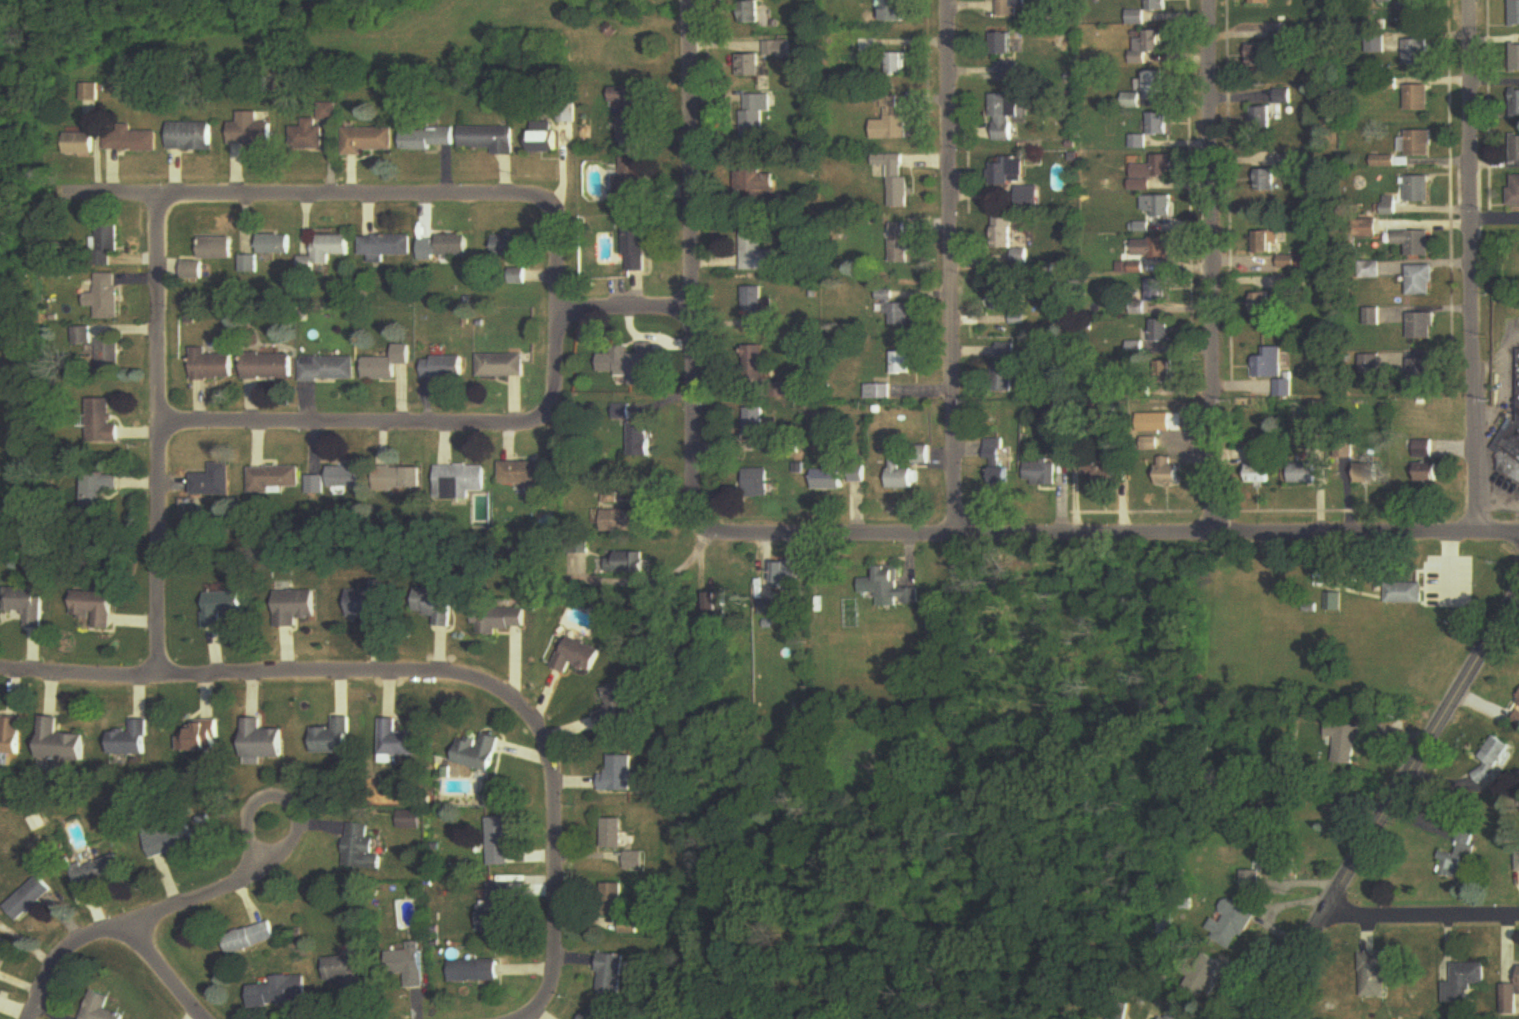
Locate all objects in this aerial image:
building: (1263, 2)
building: (1158, 6)
building: (1012, 8)
building: (902, 10)
building: (1415, 10)
building: (753, 12)
building: (1515, 14)
building: (1149, 46)
building: (1418, 53)
building: (1264, 55)
building: (1008, 57)
building: (1515, 60)
building: (900, 65)
building: (750, 66)
building: (1155, 85)
river: (53, 90)
building: (90, 94)
building: (1418, 98)
building: (1515, 104)
building: (1271, 111)
building: (632, 113)
building: (757, 113)
building: (1007, 115)
building: (896, 119)
building: (251, 132)
building: (1154, 133)
building: (309, 135)
building: (191, 137)
building: (545, 137)
building: (429, 138)
building: (489, 138)
building: (131, 140)
building: (369, 140)
building: (1418, 143)
building: (80, 144)
building: (1515, 149)
building: (1288, 161)
building: (1010, 171)
building: (1151, 172)
building: (632, 175)
building: (755, 179)
building: (898, 179)
building: (1266, 180)
building: (1419, 189)
building: (1515, 191)
road: (276, 196)
building: (1158, 207)
building: (1010, 238)
building: (1267, 242)
building: (1415, 243)
building: (106, 244)
building: (276, 245)
building: (387, 246)
building: (443, 246)
building: (510, 246)
building: (636, 247)
building: (330, 248)
building: (753, 248)
building: (218, 249)
building: (1153, 249)
building: (900, 251)
building: (1292, 263)
building: (249, 265)
road: (952, 267)
road: (1212, 268)
road: (1472, 268)
building: (518, 277)
building: (1421, 281)
building: (1157, 290)
building: (106, 298)
park: (11, 299)
building: (1005, 299)
building: (1261, 304)
road: (557, 306)
building: (755, 308)
road: (624, 310)
building: (898, 310)
building: (1421, 327)
building: (1161, 331)
building: (82, 337)
building: (1136, 349)
building: (109, 356)
building: (902, 363)
building: (754, 364)
building: (1270, 364)
building: (632, 365)
building: (1370, 365)
building: (212, 366)
building: (501, 366)
building: (269, 367)
building: (388, 367)
building: (1006, 368)
building: (328, 369)
building: (444, 369)
building: (1421, 372)
road: (1497, 373)
building: (1284, 389)
building: (878, 392)
building: (102, 422)
road: (348, 424)
road: (161, 438)
building: (640, 440)
building: (1423, 450)
building: (1510, 455)
building: (997, 463)
building: (1168, 472)
building: (1101, 473)
building: (1429, 473)
building: (527, 474)
building: (1041, 474)
building: (1302, 474)
building: (1259, 476)
building: (828, 477)
building: (345, 478)
building: (900, 478)
building: (461, 479)
building: (274, 480)
building: (400, 480)
building: (214, 483)
building: (757, 484)
building: (316, 486)
building: (100, 489)
road: (1498, 498)
building: (625, 521)
road: (846, 536)
building: (631, 563)
building: (784, 577)
building: (894, 587)
building: (1404, 594)
building: (28, 605)
building: (366, 605)
building: (436, 606)
building: (294, 607)
building: (96, 609)
building: (223, 609)
building: (718, 610)
building: (499, 620)
building: (577, 656)
road: (430, 668)
building: (616, 709)
building: (12, 737)
building: (201, 737)
building: (333, 738)
building: (261, 741)
building: (397, 741)
building: (61, 743)
building: (128, 743)
building: (1344, 743)
building: (477, 753)
building: (1491, 759)
building: (618, 776)
road: (1392, 806)
building: (408, 821)
building: (612, 835)
building: (168, 841)
building: (497, 842)
building: (357, 848)
building: (1457, 857)
building: (633, 862)
building: (99, 872)
building: (1249, 881)
building: (35, 897)
building: (613, 899)
building: (495, 910)
road: (164, 912)
road: (1422, 918)
building: (1232, 923)
building: (249, 939)
road: (29, 941)
building: (3, 948)
building: (406, 966)
road: (168, 972)
building: (344, 972)
building: (472, 972)
building: (611, 975)
building: (1199, 975)
building: (1375, 975)
building: (1466, 983)
building: (280, 993)
building: (1510, 999)
building: (99, 1008)
building: (1108, 1013)
building: (591, 1015)
building: (1173, 1015)

